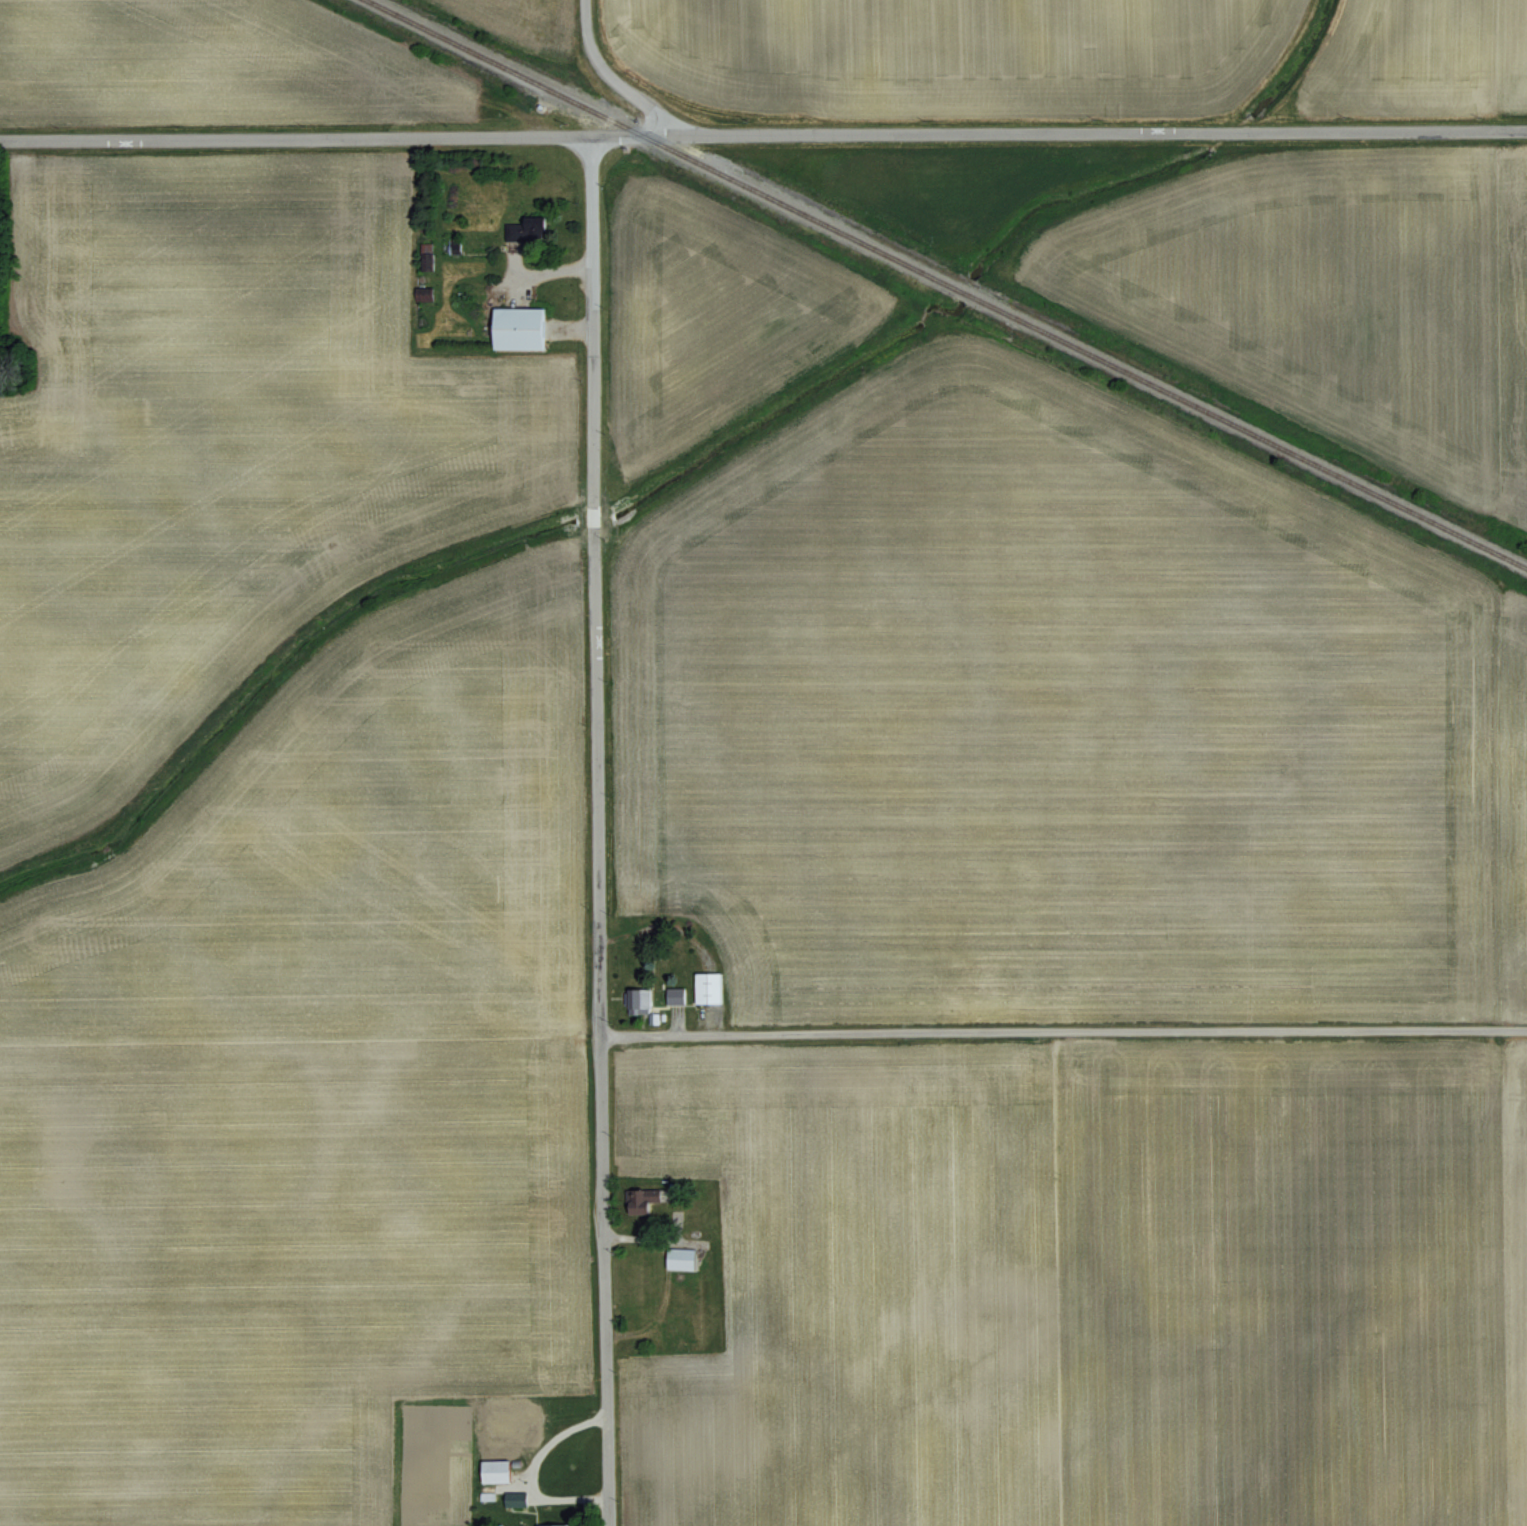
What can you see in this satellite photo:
road: (611, 77)
road: (763, 133)
railway: (950, 282)
road: (592, 316)
road: (593, 515)
road: (1063, 1029)
road: (600, 1030)
road: (670, 1277)

